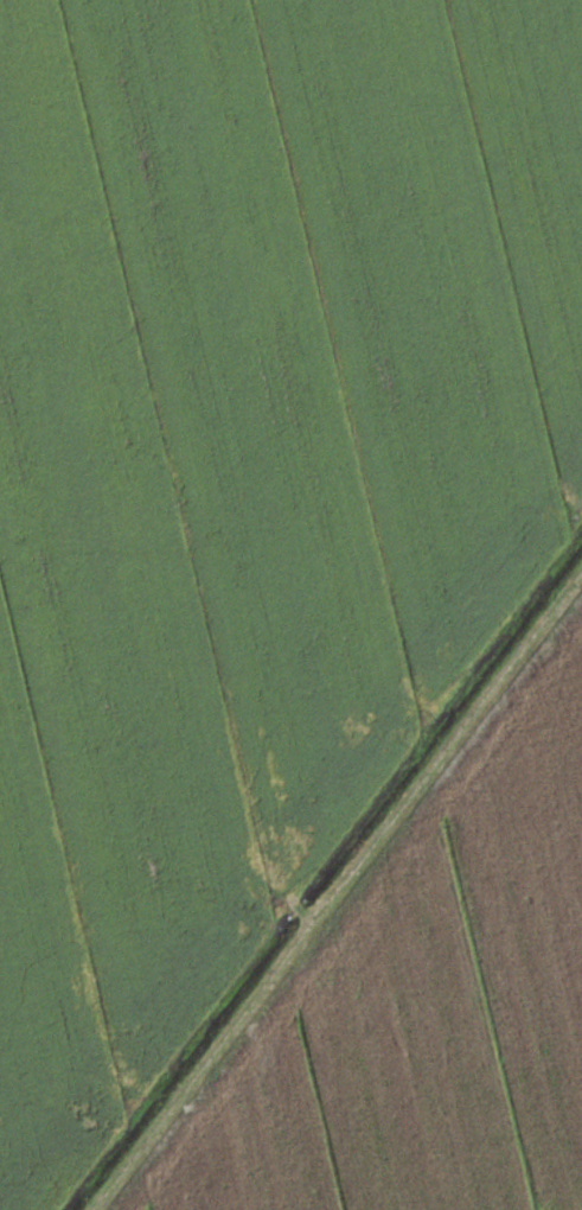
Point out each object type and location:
crop: (250, 472)
road: (338, 890)
crop: (422, 1001)

